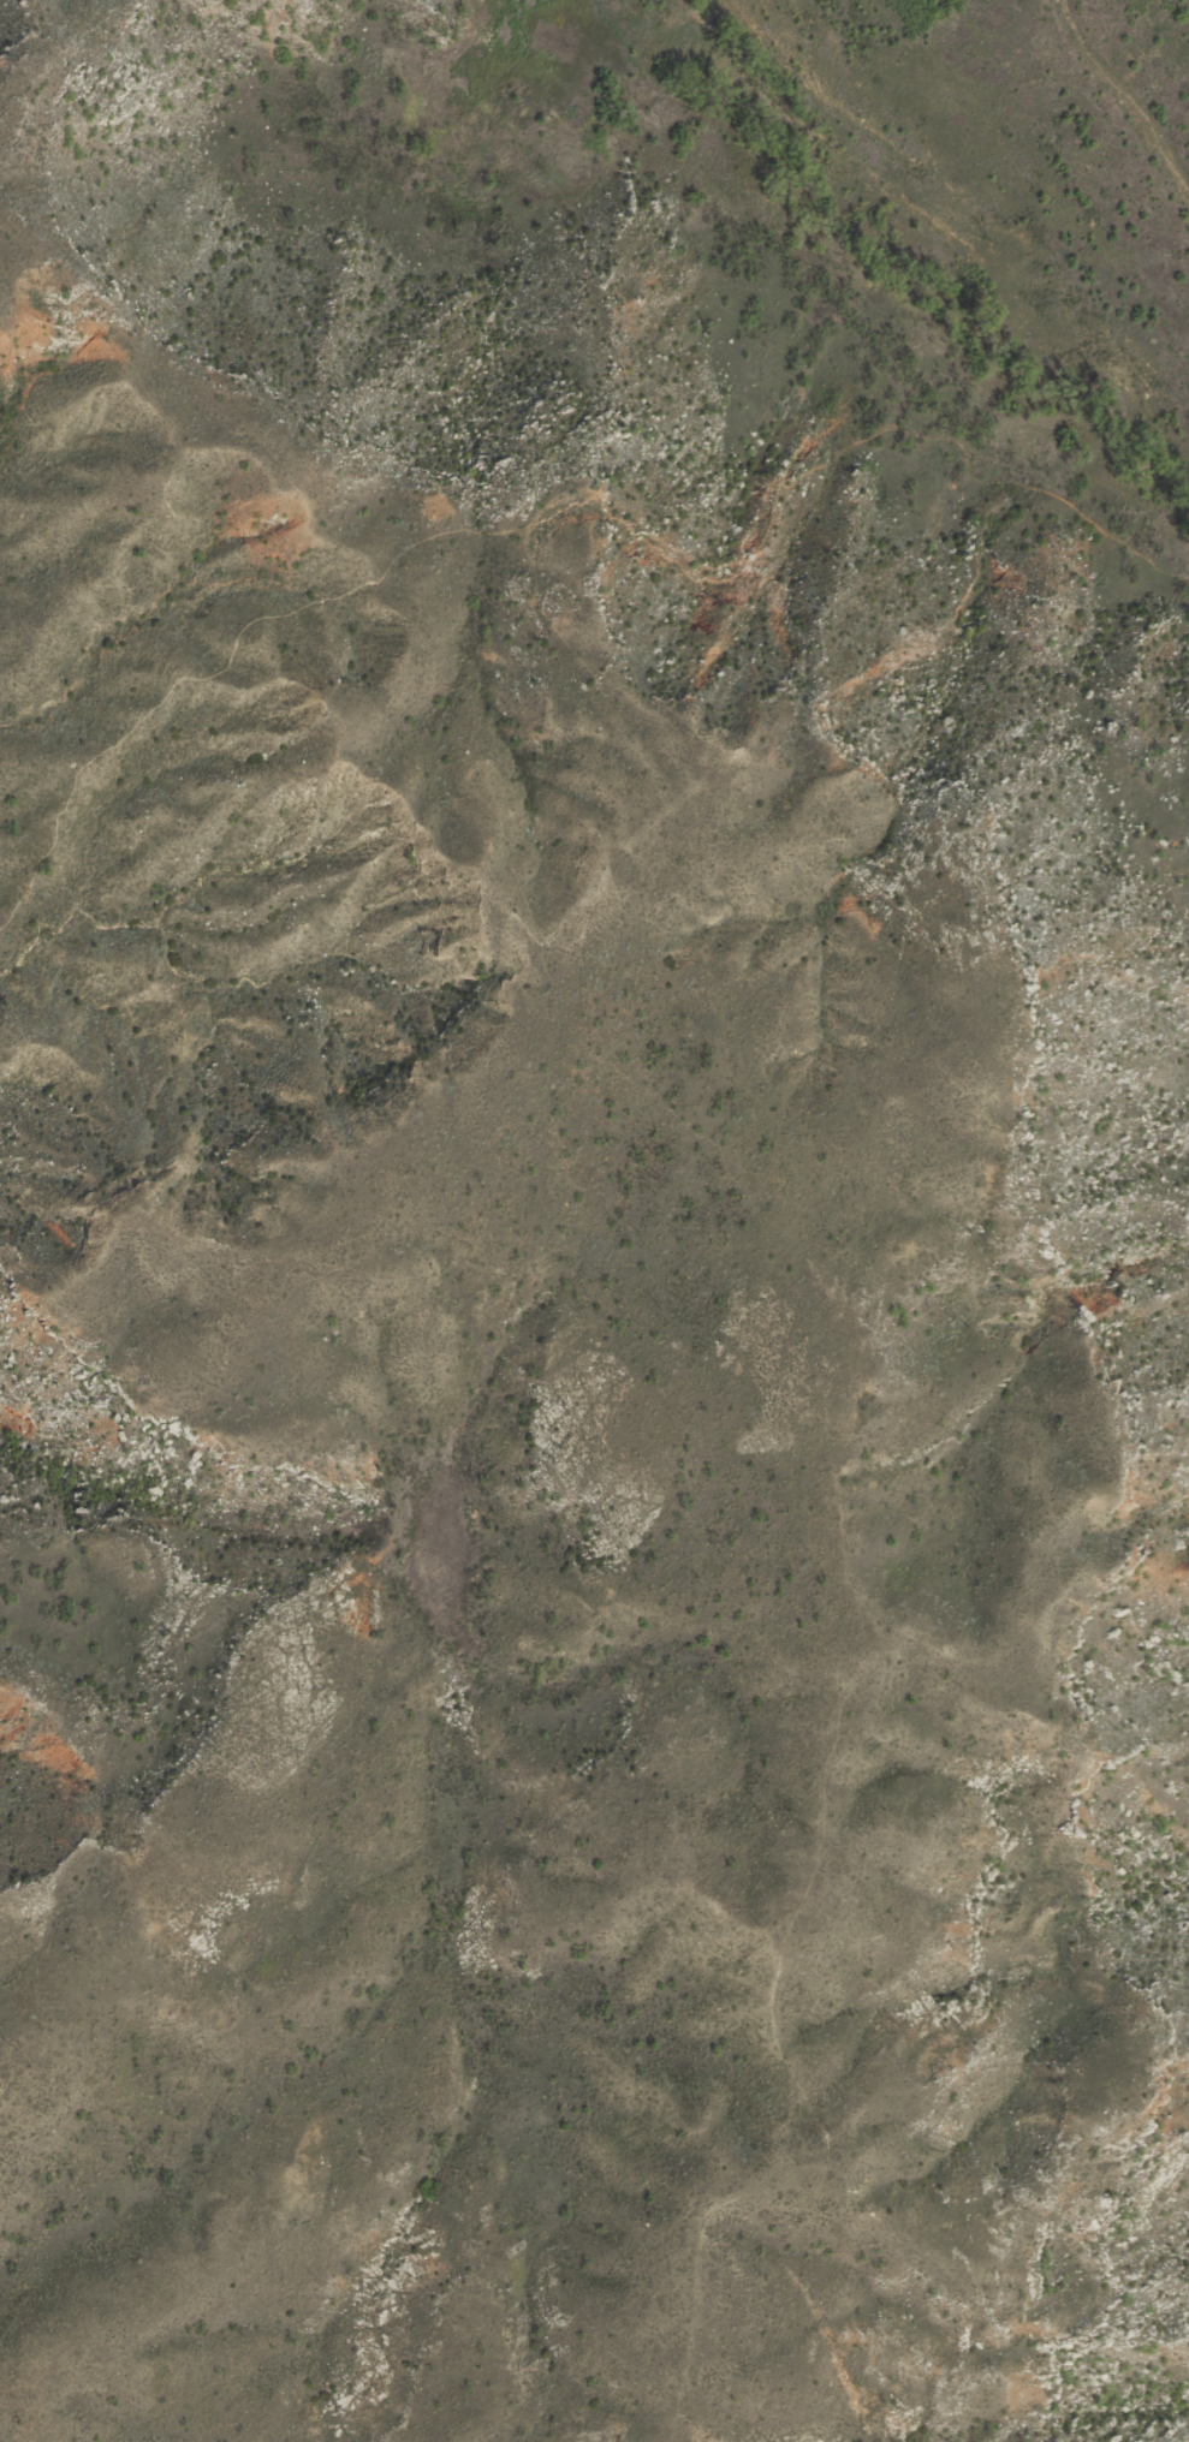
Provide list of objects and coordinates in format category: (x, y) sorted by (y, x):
road: (845, 1609)

